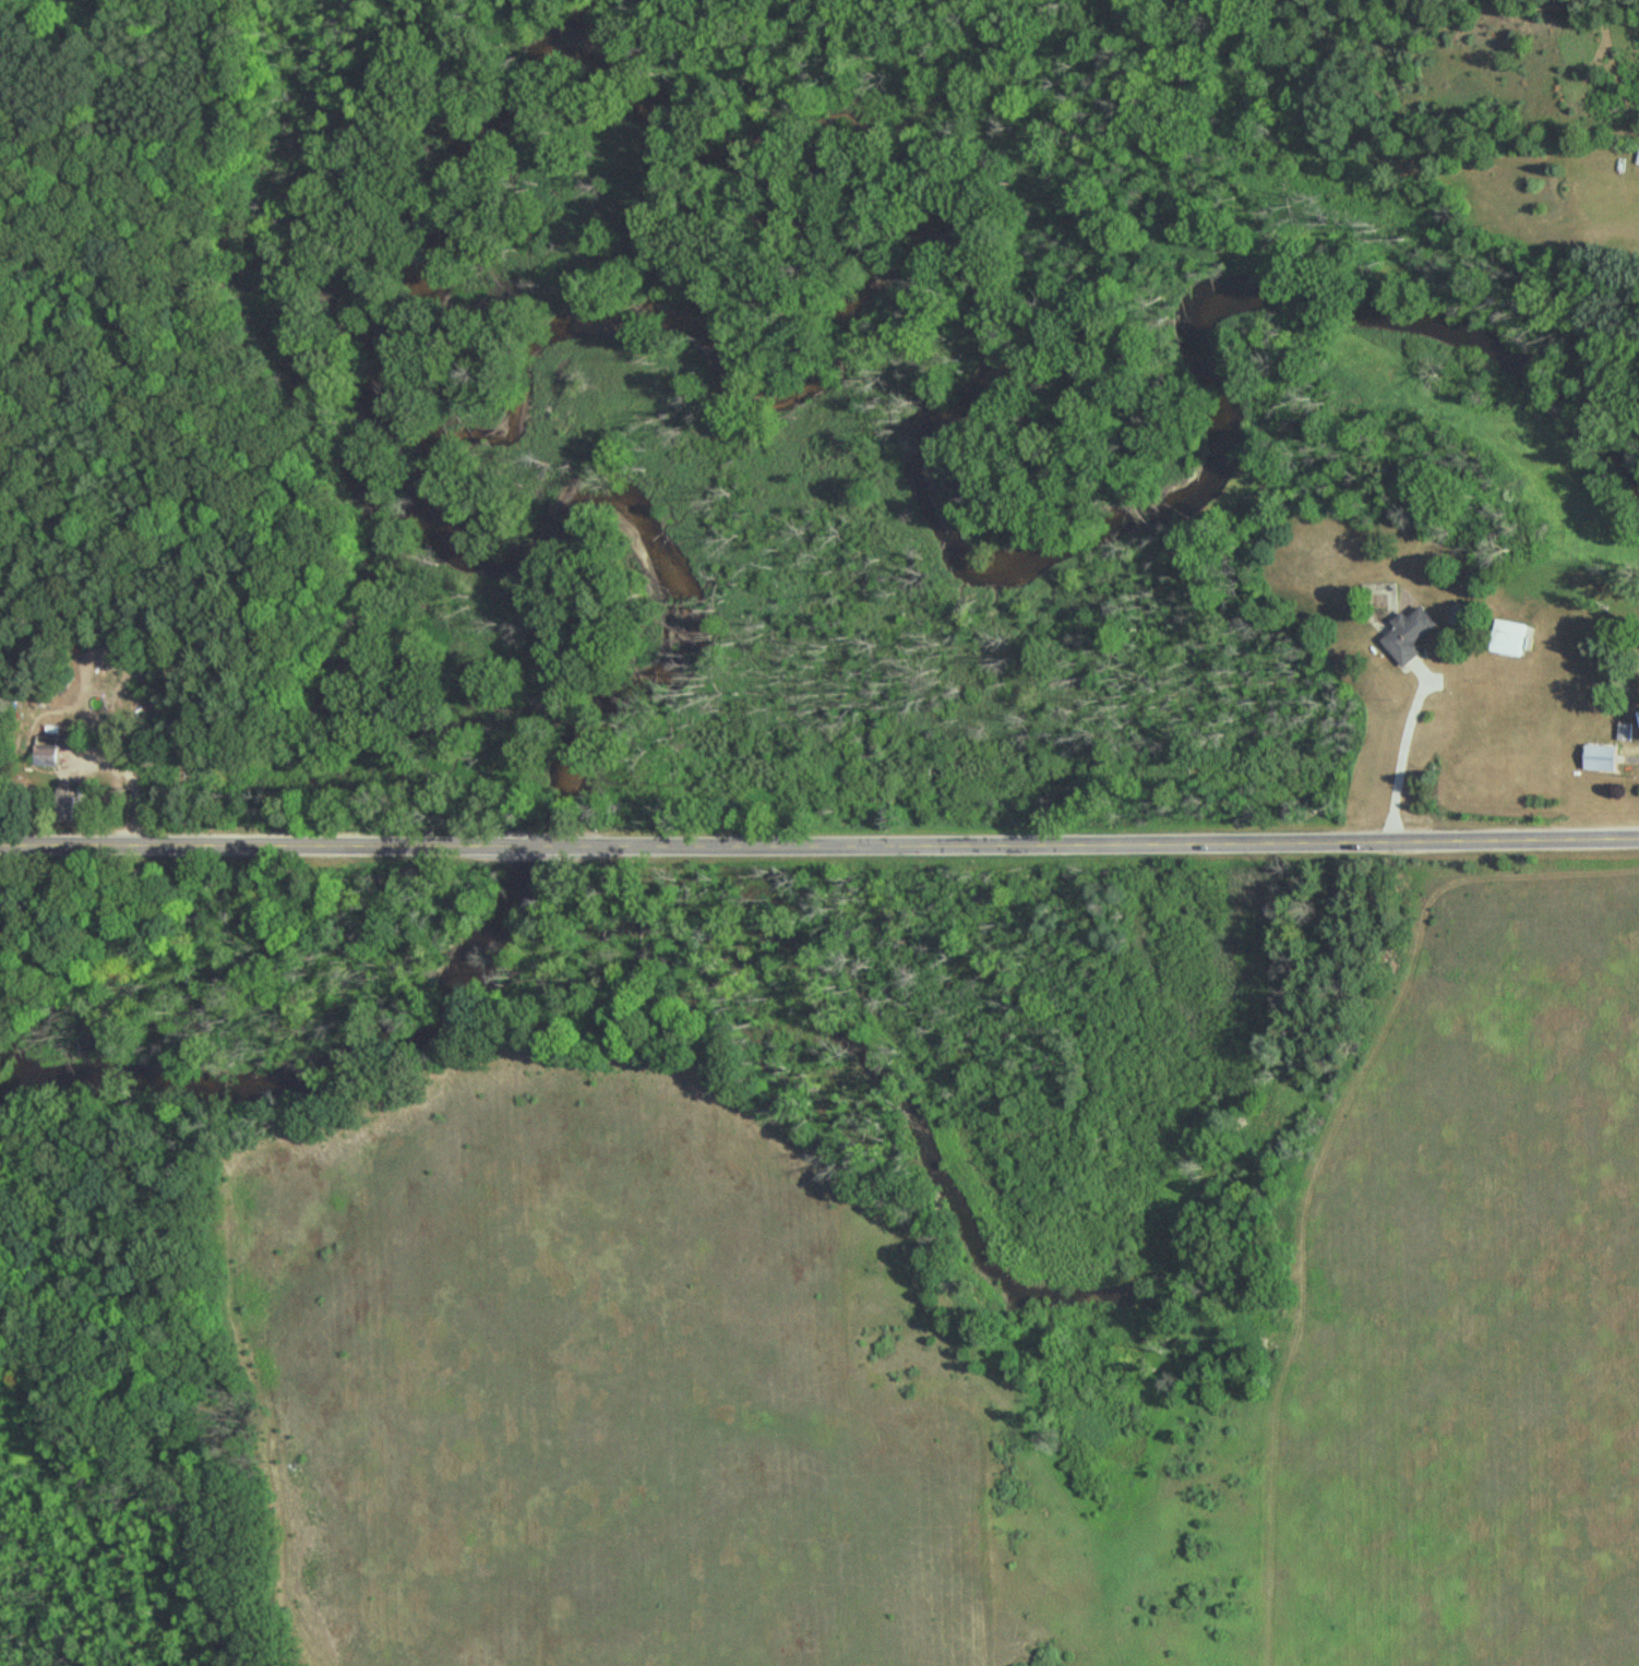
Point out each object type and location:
river: (1201, 447)
river: (625, 560)
building: (1411, 636)
building: (1510, 640)
building: (1627, 734)
building: (46, 750)
road: (1405, 753)
building: (1604, 760)
road: (130, 783)
building: (65, 807)
road: (1108, 843)
road: (247, 847)
road: (535, 849)

